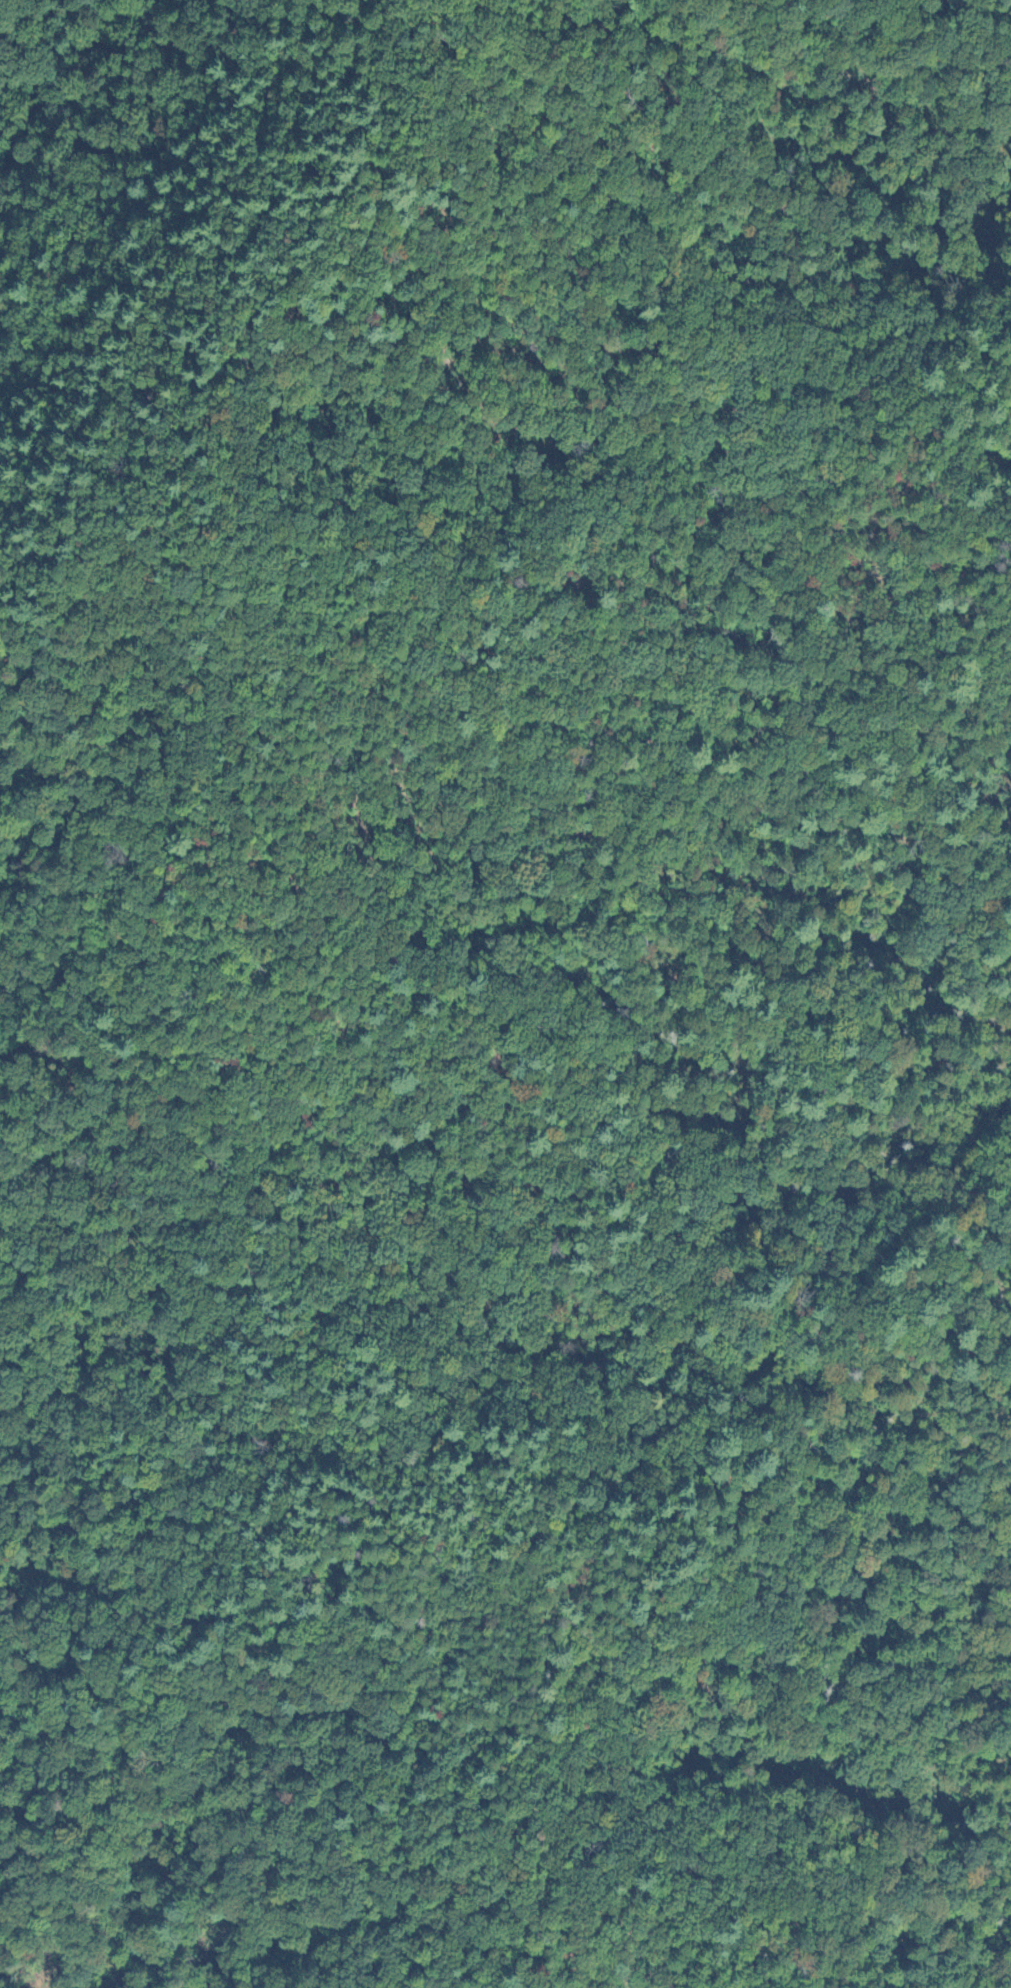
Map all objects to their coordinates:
road: (1009, 1903)

